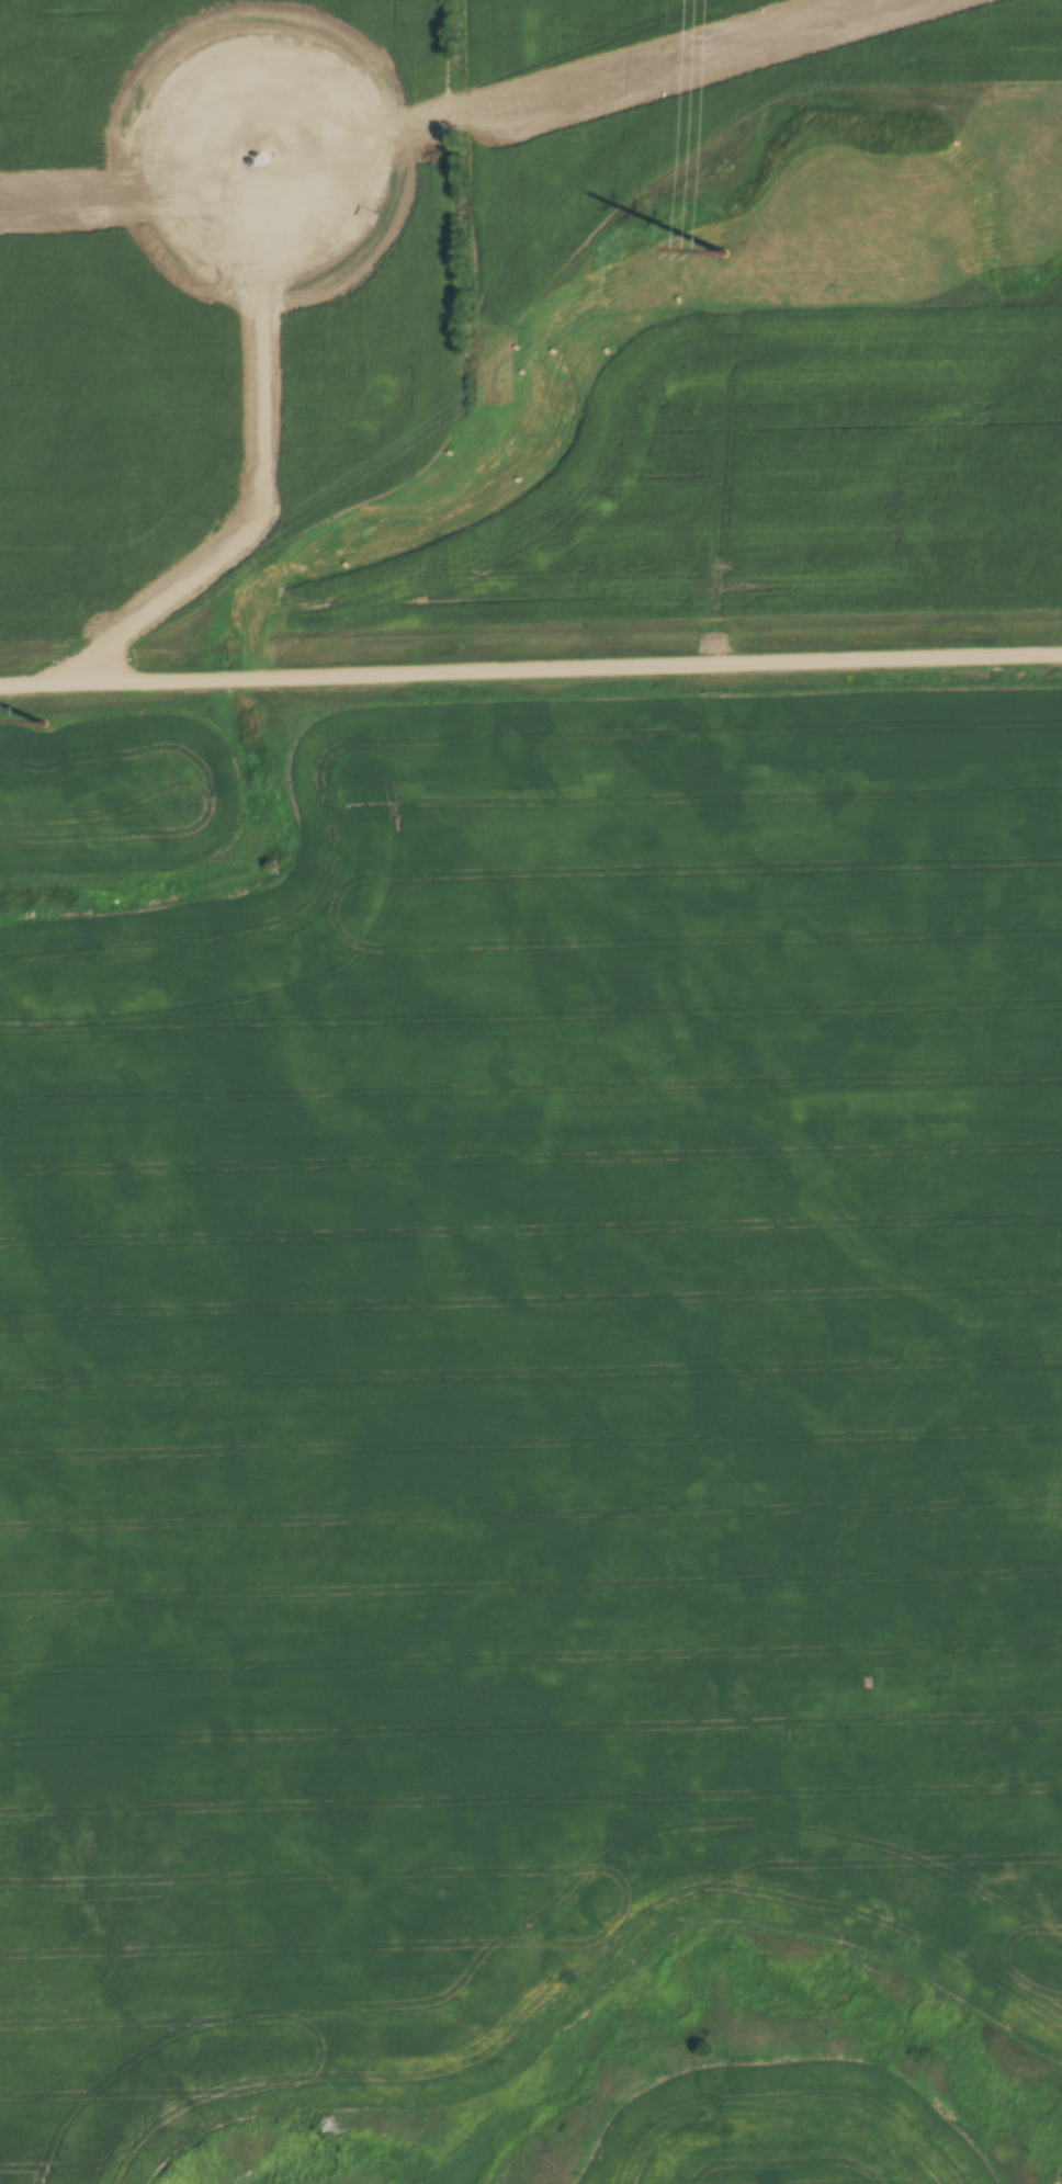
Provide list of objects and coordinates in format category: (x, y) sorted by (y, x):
wind turbine: (272, 157)
power tower: (724, 250)
road: (530, 665)
power tower: (44, 721)

